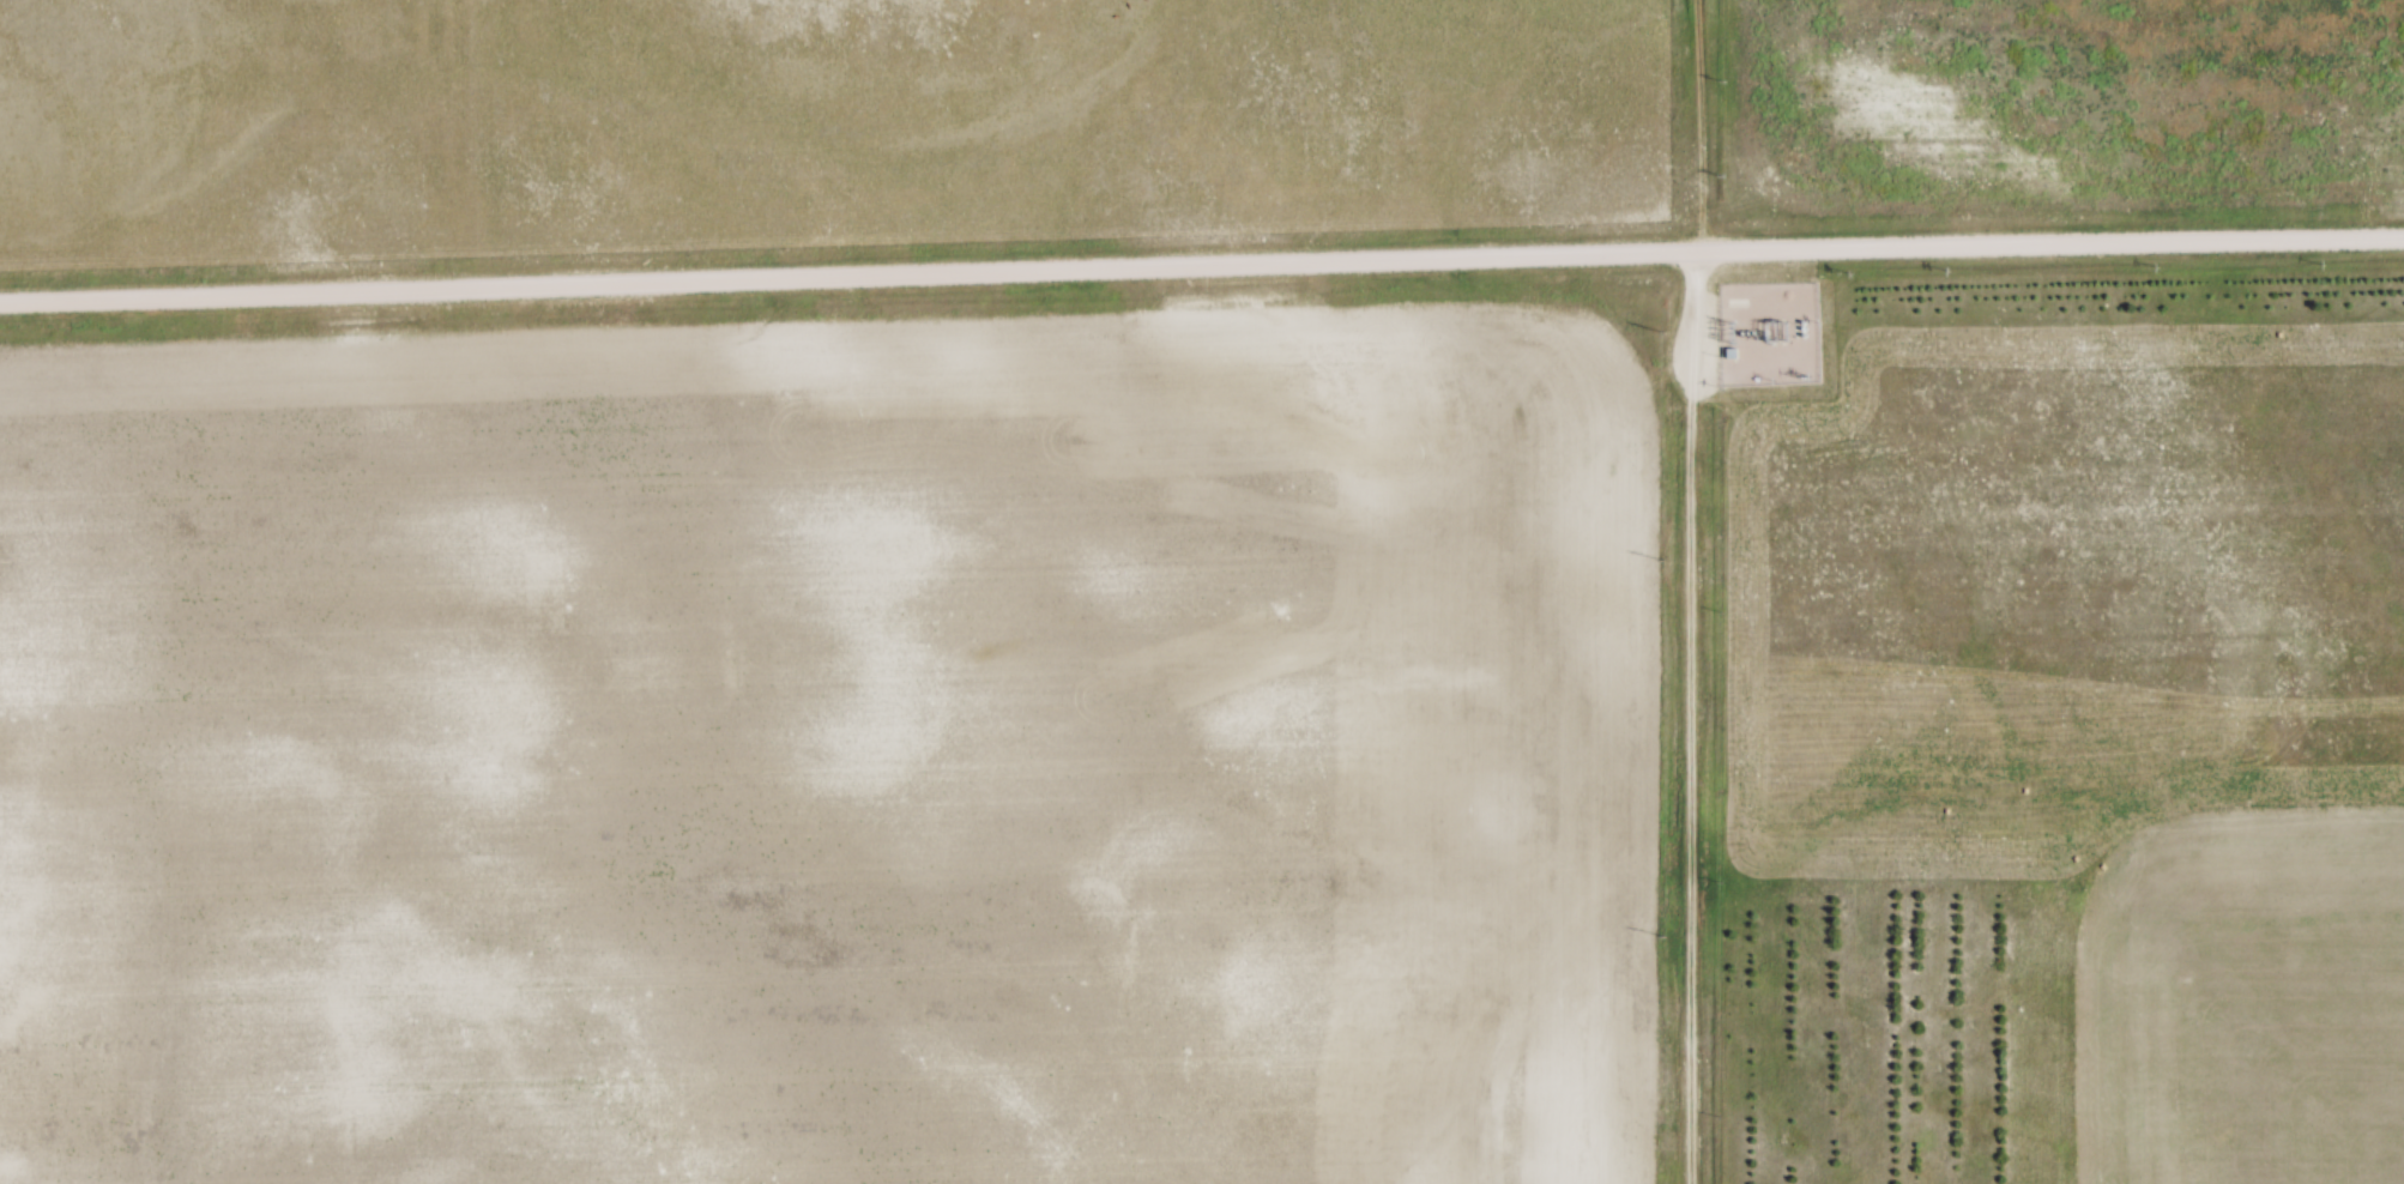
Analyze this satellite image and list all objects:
road: (1201, 265)
road: (1696, 591)

